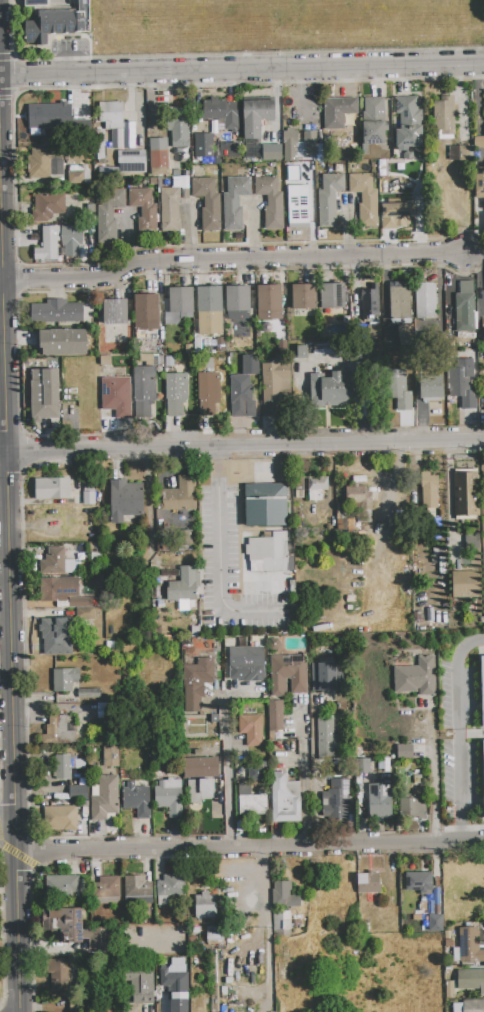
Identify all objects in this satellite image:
building: (35, 2)
building: (58, 23)
road: (241, 70)
building: (338, 112)
building: (222, 113)
building: (111, 115)
building: (256, 116)
building: (444, 116)
building: (49, 117)
building: (373, 121)
building: (408, 122)
building: (124, 141)
building: (478, 142)
building: (298, 145)
building: (203, 146)
building: (168, 147)
building: (251, 148)
building: (229, 149)
building: (457, 152)
building: (271, 153)
building: (131, 162)
building: (44, 163)
building: (77, 174)
building: (479, 184)
building: (365, 198)
building: (328, 199)
building: (270, 201)
building: (234, 202)
building: (208, 203)
building: (47, 206)
building: (298, 207)
building: (168, 209)
building: (144, 211)
building: (396, 214)
building: (108, 217)
building: (71, 234)
building: (47, 245)
road: (1, 256)
road: (229, 258)
road: (480, 272)
building: (331, 296)
building: (304, 297)
building: (237, 298)
building: (368, 300)
building: (425, 301)
building: (268, 302)
road: (4, 303)
building: (399, 303)
building: (177, 304)
building: (464, 307)
building: (114, 311)
building: (209, 311)
building: (56, 312)
building: (147, 312)
building: (483, 331)
building: (403, 335)
building: (62, 342)
building: (321, 348)
building: (301, 350)
building: (462, 383)
building: (274, 386)
building: (430, 386)
building: (335, 388)
building: (399, 389)
building: (143, 391)
building: (483, 391)
building: (115, 393)
building: (207, 393)
building: (45, 394)
building: (175, 394)
building: (241, 396)
road: (244, 446)
road: (3, 452)
building: (317, 484)
building: (52, 488)
building: (428, 491)
building: (465, 494)
building: (179, 495)
building: (357, 496)
building: (88, 498)
building: (126, 502)
building: (265, 505)
building: (182, 539)
building: (472, 541)
building: (270, 552)
road: (220, 557)
building: (56, 562)
building: (465, 584)
building: (184, 585)
building: (58, 588)
building: (80, 602)
building: (86, 614)
building: (57, 627)
building: (47, 647)
building: (246, 664)
building: (288, 674)
building: (326, 675)
building: (416, 677)
building: (64, 679)
building: (195, 683)
building: (482, 688)
building: (87, 693)
building: (275, 715)
road: (457, 717)
building: (250, 724)
road: (12, 732)
building: (57, 732)
building: (326, 738)
building: (405, 752)
building: (483, 753)
building: (110, 757)
building: (361, 765)
building: (63, 767)
building: (200, 768)
road: (304, 773)
road: (225, 774)
road: (433, 774)
building: (199, 790)
building: (78, 793)
building: (337, 793)
building: (169, 796)
building: (104, 798)
building: (136, 798)
building: (284, 798)
building: (379, 801)
building: (253, 805)
building: (412, 806)
building: (59, 818)
road: (461, 827)
road: (7, 837)
road: (248, 846)
building: (418, 882)
building: (368, 883)
building: (62, 885)
building: (106, 887)
building: (137, 887)
building: (169, 888)
building: (284, 895)
building: (205, 906)
building: (280, 919)
building: (435, 923)
building: (74, 928)
building: (215, 935)
building: (468, 946)
building: (58, 974)
building: (470, 980)
building: (176, 984)
building: (140, 986)
building: (473, 1006)

